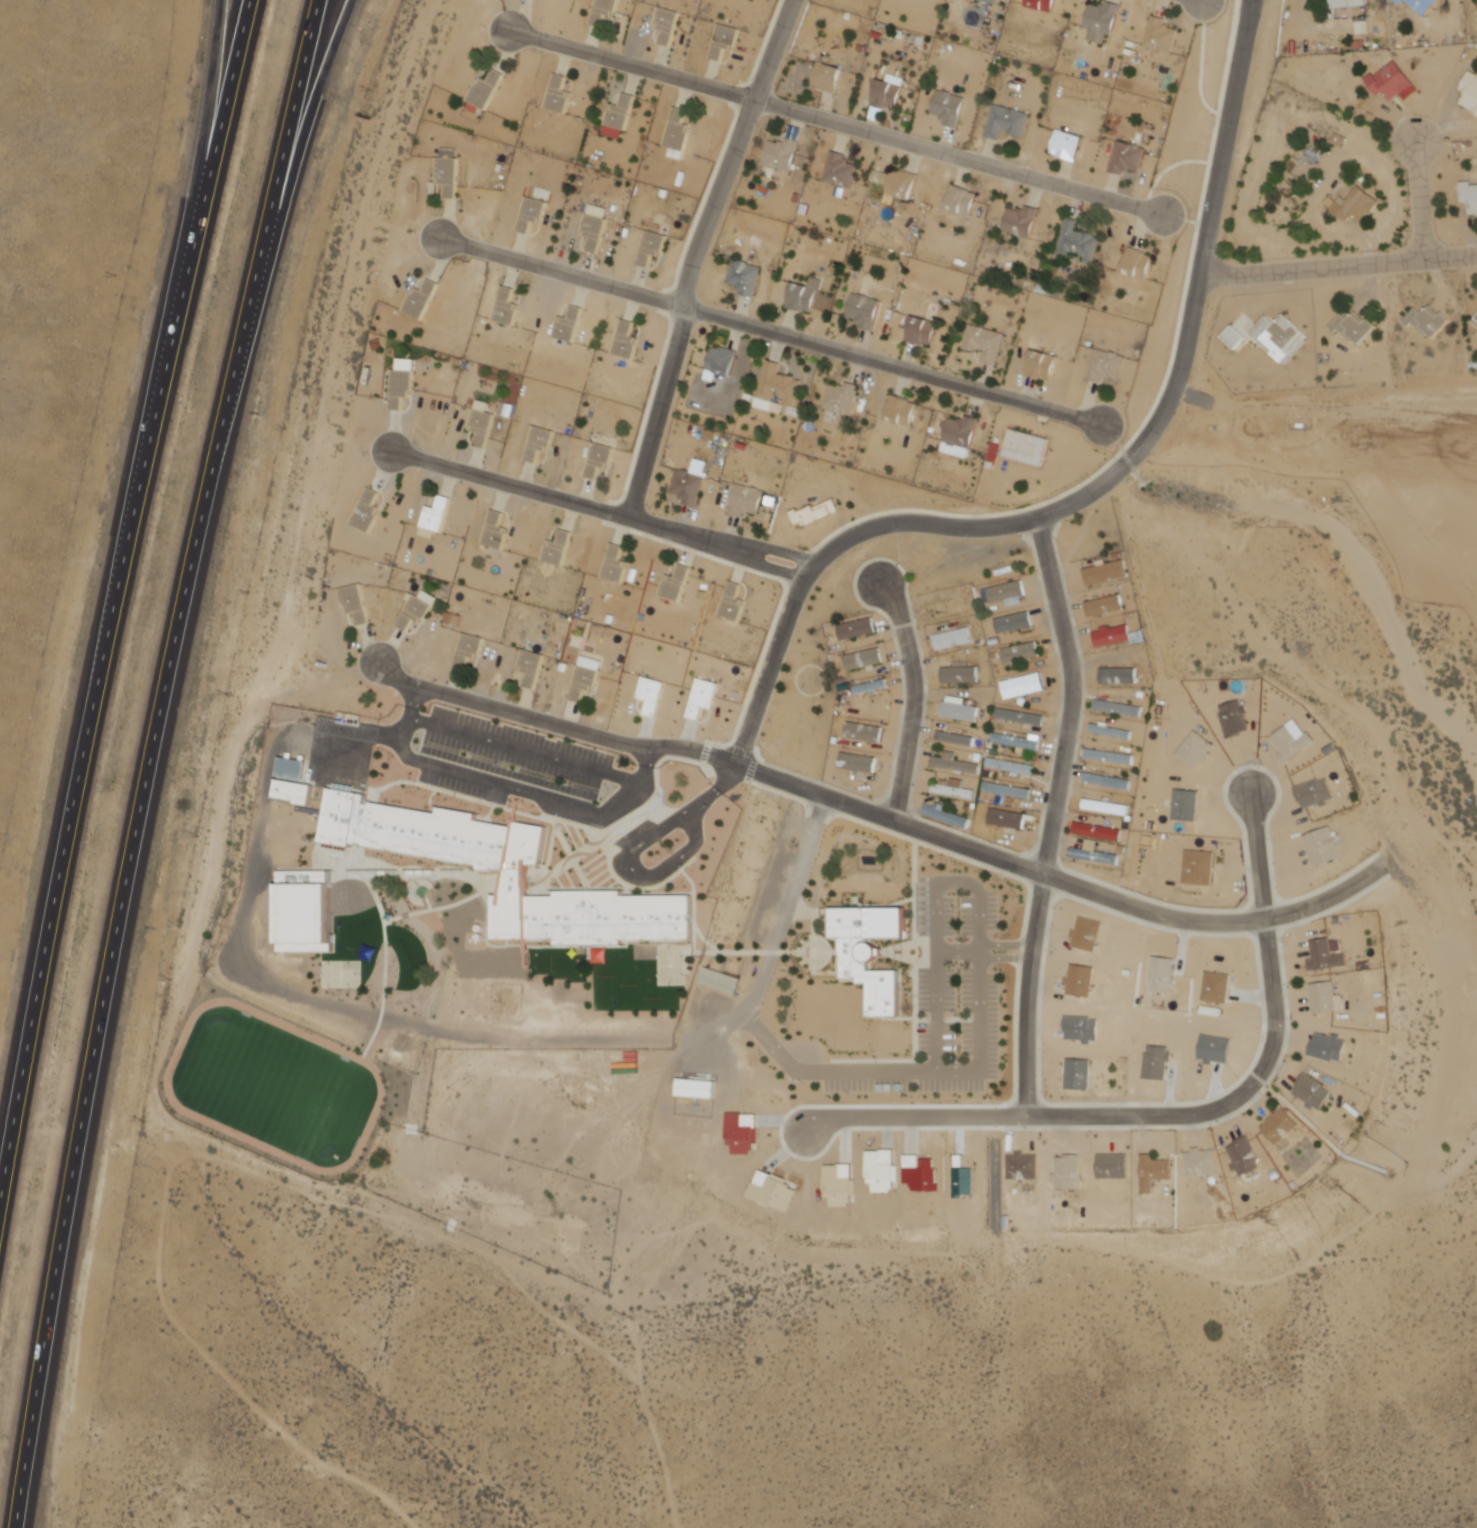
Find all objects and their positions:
building: (991, 2)
building: (1349, 3)
building: (1043, 4)
building: (1421, 5)
building: (605, 10)
building: (1103, 21)
building: (668, 25)
building: (1161, 35)
building: (725, 40)
road: (1200, 66)
building: (828, 78)
building: (1393, 82)
building: (1471, 90)
building: (486, 92)
building: (559, 94)
building: (886, 97)
building: (950, 107)
building: (620, 115)
road: (312, 118)
road: (297, 119)
road: (837, 122)
building: (1007, 122)
building: (678, 135)
road: (208, 145)
road: (218, 145)
building: (1068, 146)
building: (781, 155)
building: (1127, 158)
road: (1169, 166)
building: (840, 170)
building: (449, 171)
building: (902, 185)
building: (1470, 195)
building: (962, 200)
road: (1421, 201)
building: (1358, 204)
building: (533, 213)
building: (1022, 221)
building: (596, 225)
building: (1078, 243)
building: (652, 247)
road: (1338, 262)
building: (1139, 263)
building: (744, 277)
road: (687, 284)
building: (805, 295)
building: (421, 300)
building: (507, 307)
building: (865, 310)
building: (1476, 319)
building: (1430, 321)
building: (570, 325)
building: (1356, 327)
road: (772, 331)
building: (922, 331)
building: (1280, 337)
building: (627, 341)
building: (985, 343)
building: (721, 362)
building: (1043, 365)
building: (1106, 366)
building: (402, 383)
building: (776, 387)
building: (841, 399)
building: (778, 408)
building: (901, 411)
building: (483, 424)
building: (961, 436)
building: (540, 442)
road: (1115, 442)
building: (1027, 448)
building: (600, 459)
building: (690, 483)
road: (511, 484)
road: (1096, 484)
building: (748, 499)
building: (368, 511)
building: (816, 513)
building: (436, 517)
building: (496, 531)
road: (754, 546)
building: (558, 549)
road: (746, 557)
building: (616, 565)
building: (1105, 572)
building: (677, 584)
building: (1009, 593)
building: (355, 603)
building: (733, 603)
building: (1106, 606)
building: (947, 608)
building: (417, 610)
building: (1015, 623)
building: (857, 629)
building: (1117, 636)
building: (954, 639)
building: (469, 650)
building: (1021, 653)
building: (865, 660)
building: (532, 668)
building: (960, 675)
building: (1120, 676)
building: (586, 678)
building: (1024, 687)
building: (872, 694)
building: (652, 696)
building: (704, 697)
road: (914, 700)
building: (1120, 708)
building: (960, 709)
building: (1021, 717)
building: (1235, 719)
building: (1111, 731)
building: (864, 733)
building: (957, 739)
building: (1019, 742)
building: (1293, 744)
building: (1197, 750)
road: (527, 751)
building: (1111, 757)
road: (86, 761)
building: (858, 763)
building: (956, 764)
building: (1012, 766)
building: (1109, 781)
building: (295, 782)
road: (507, 787)
road: (718, 789)
building: (955, 789)
building: (1008, 790)
building: (1315, 794)
building: (1186, 805)
building: (1110, 808)
road: (1053, 813)
building: (947, 815)
road: (883, 816)
building: (1007, 818)
building: (767, 823)
building: (1099, 832)
building: (1323, 848)
building: (1095, 854)
building: (753, 858)
building: (1200, 867)
building: (509, 872)
road: (635, 872)
road: (132, 880)
building: (744, 884)
building: (306, 909)
building: (734, 913)
building: (1087, 934)
building: (726, 936)
building: (871, 949)
road: (984, 951)
building: (1327, 954)
park: (670, 963)
park: (341, 974)
building: (722, 980)
building: (1081, 980)
building: (1323, 996)
building: (1083, 1028)
road: (983, 1029)
building: (1328, 1046)
building: (1215, 1049)
building: (1157, 1061)
road: (860, 1070)
building: (1079, 1072)
track: (169, 1085)
building: (696, 1088)
building: (1313, 1091)
road: (1179, 1115)
track: (218, 1125)
building: (1281, 1125)
building: (1245, 1156)
building: (1201, 1161)
building: (1023, 1165)
building: (1114, 1166)
building: (1155, 1171)
building: (1067, 1172)

